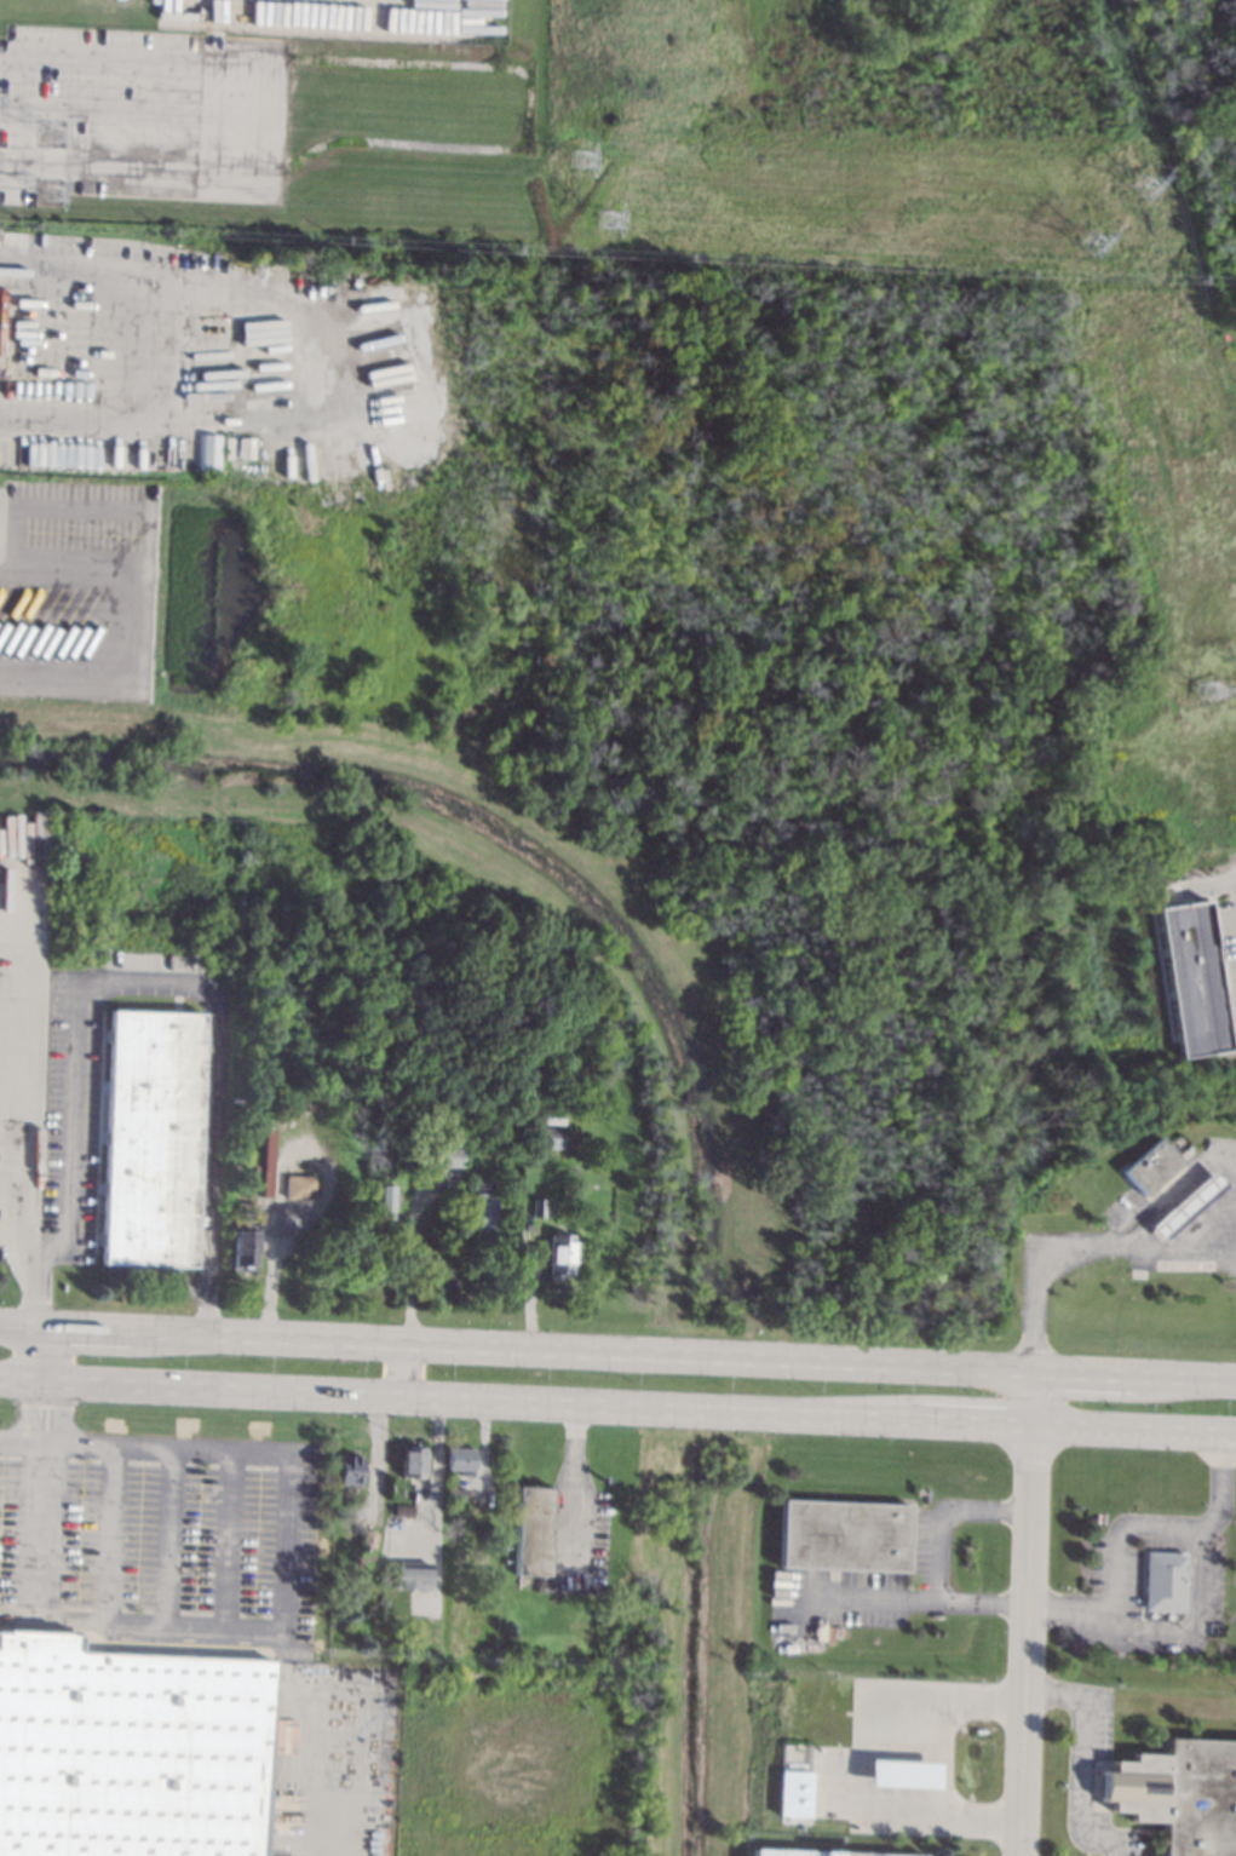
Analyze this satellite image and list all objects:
road: (214, 15)
road: (213, 45)
road: (19, 111)
road: (136, 111)
parking lot: (142, 114)
road: (272, 116)
power tower: (52, 133)
power tower: (580, 159)
power tower: (1144, 183)
power tower: (48, 193)
power tower: (609, 220)
power tower: (1093, 241)
road: (145, 343)
building: (211, 450)
power tower: (1209, 690)
road: (1206, 885)
parking lot: (1229, 940)
building: (1194, 977)
road: (145, 983)
road: (8, 1084)
building: (556, 1113)
building: (151, 1137)
building: (552, 1137)
building: (445, 1156)
building: (376, 1159)
building: (265, 1161)
road: (281, 1165)
building: (1156, 1166)
building: (255, 1167)
building: (298, 1186)
road: (1168, 1199)
building: (381, 1200)
building: (1190, 1203)
gas station: (1190, 1203)
building: (536, 1206)
building: (245, 1211)
building: (478, 1212)
building: (243, 1248)
road: (1088, 1251)
building: (558, 1255)
road: (406, 1260)
road: (617, 1351)
road: (398, 1369)
road: (39, 1384)
road: (59, 1385)
road: (617, 1406)
road: (144, 1446)
building: (458, 1459)
building: (412, 1461)
building: (347, 1469)
road: (570, 1476)
road: (1225, 1483)
building: (453, 1494)
building: (402, 1510)
road: (944, 1512)
road: (1121, 1525)
building: (531, 1529)
road: (44, 1530)
road: (110, 1533)
parking lot: (155, 1534)
building: (843, 1534)
road: (167, 1535)
building: (485, 1535)
road: (230, 1539)
building: (370, 1540)
road: (286, 1541)
building: (410, 1575)
building: (1166, 1580)
parking lot: (1117, 1581)
road: (919, 1597)
road: (1071, 1605)
road: (1027, 1613)
road: (140, 1624)
road: (1200, 1624)
road: (947, 1688)
building: (130, 1751)
road: (1085, 1757)
building: (899, 1774)
road: (941, 1791)
building: (792, 1793)
building: (1180, 1794)
building: (874, 1852)

